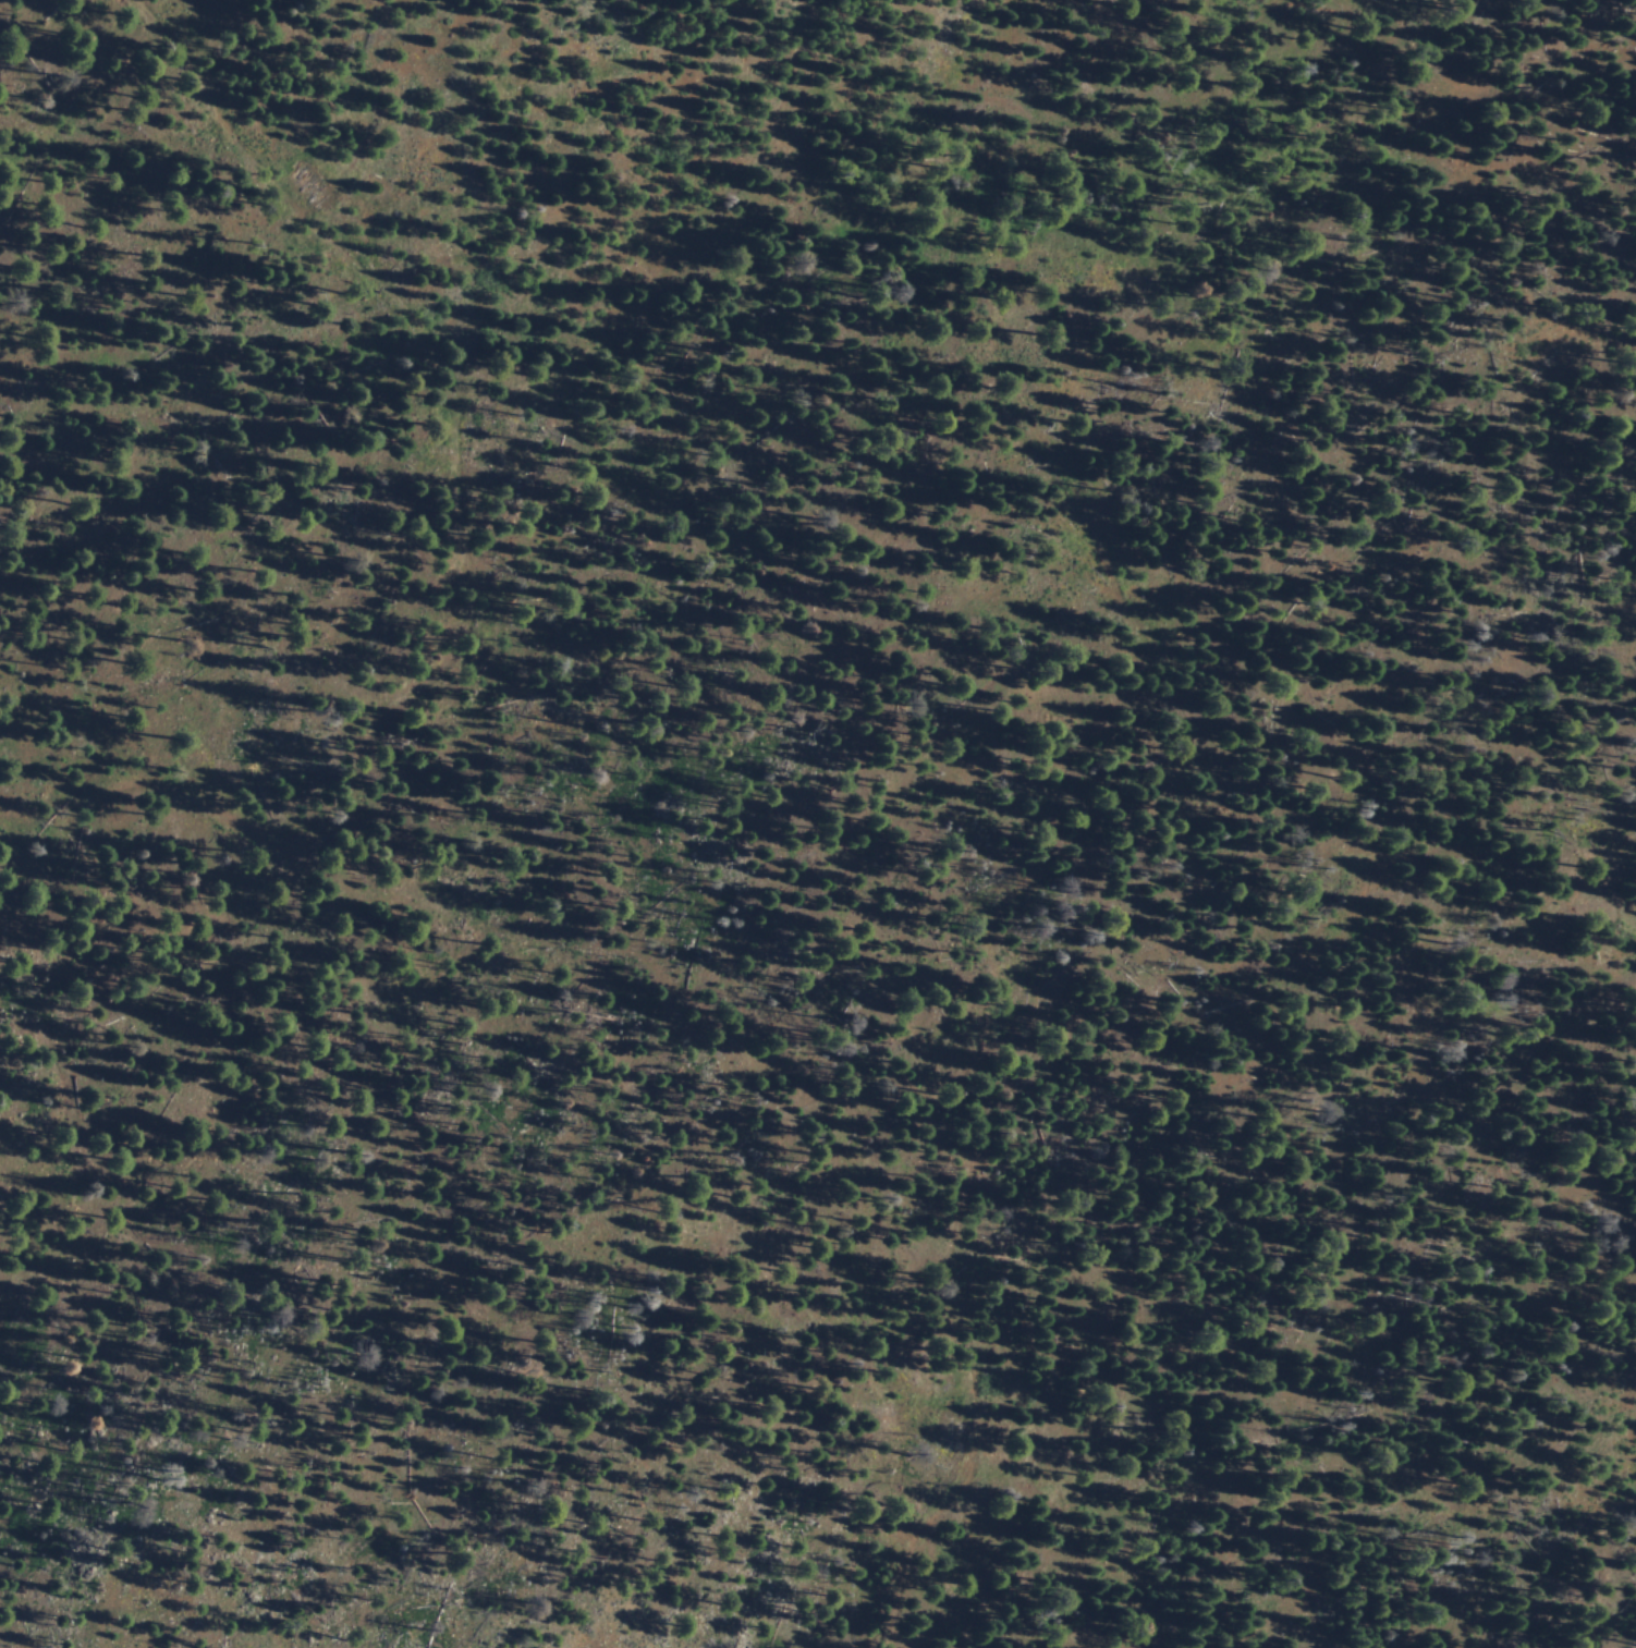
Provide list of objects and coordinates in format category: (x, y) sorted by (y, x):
road: (538, 725)
road: (851, 1171)

